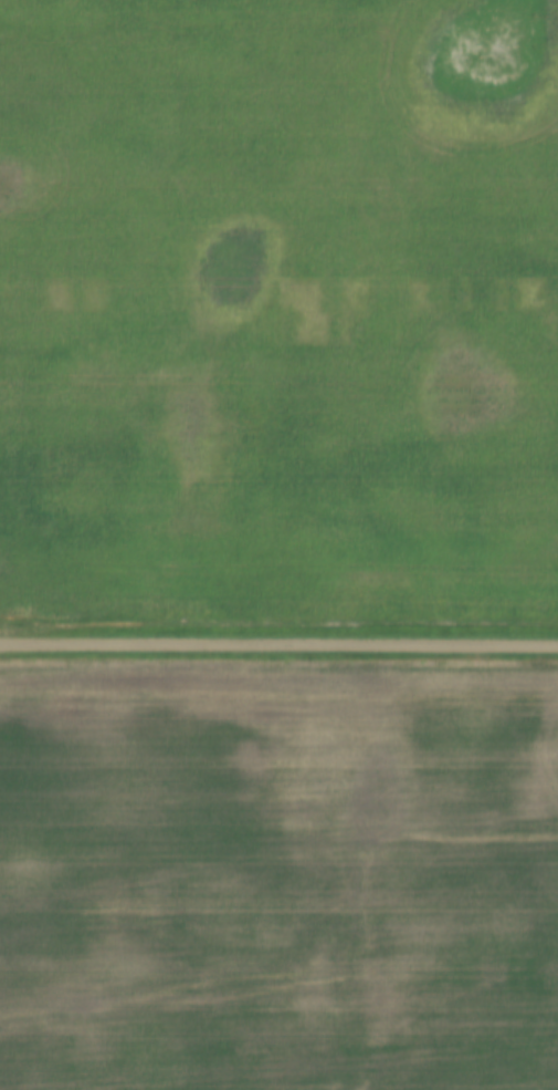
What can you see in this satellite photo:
road: (278, 648)

